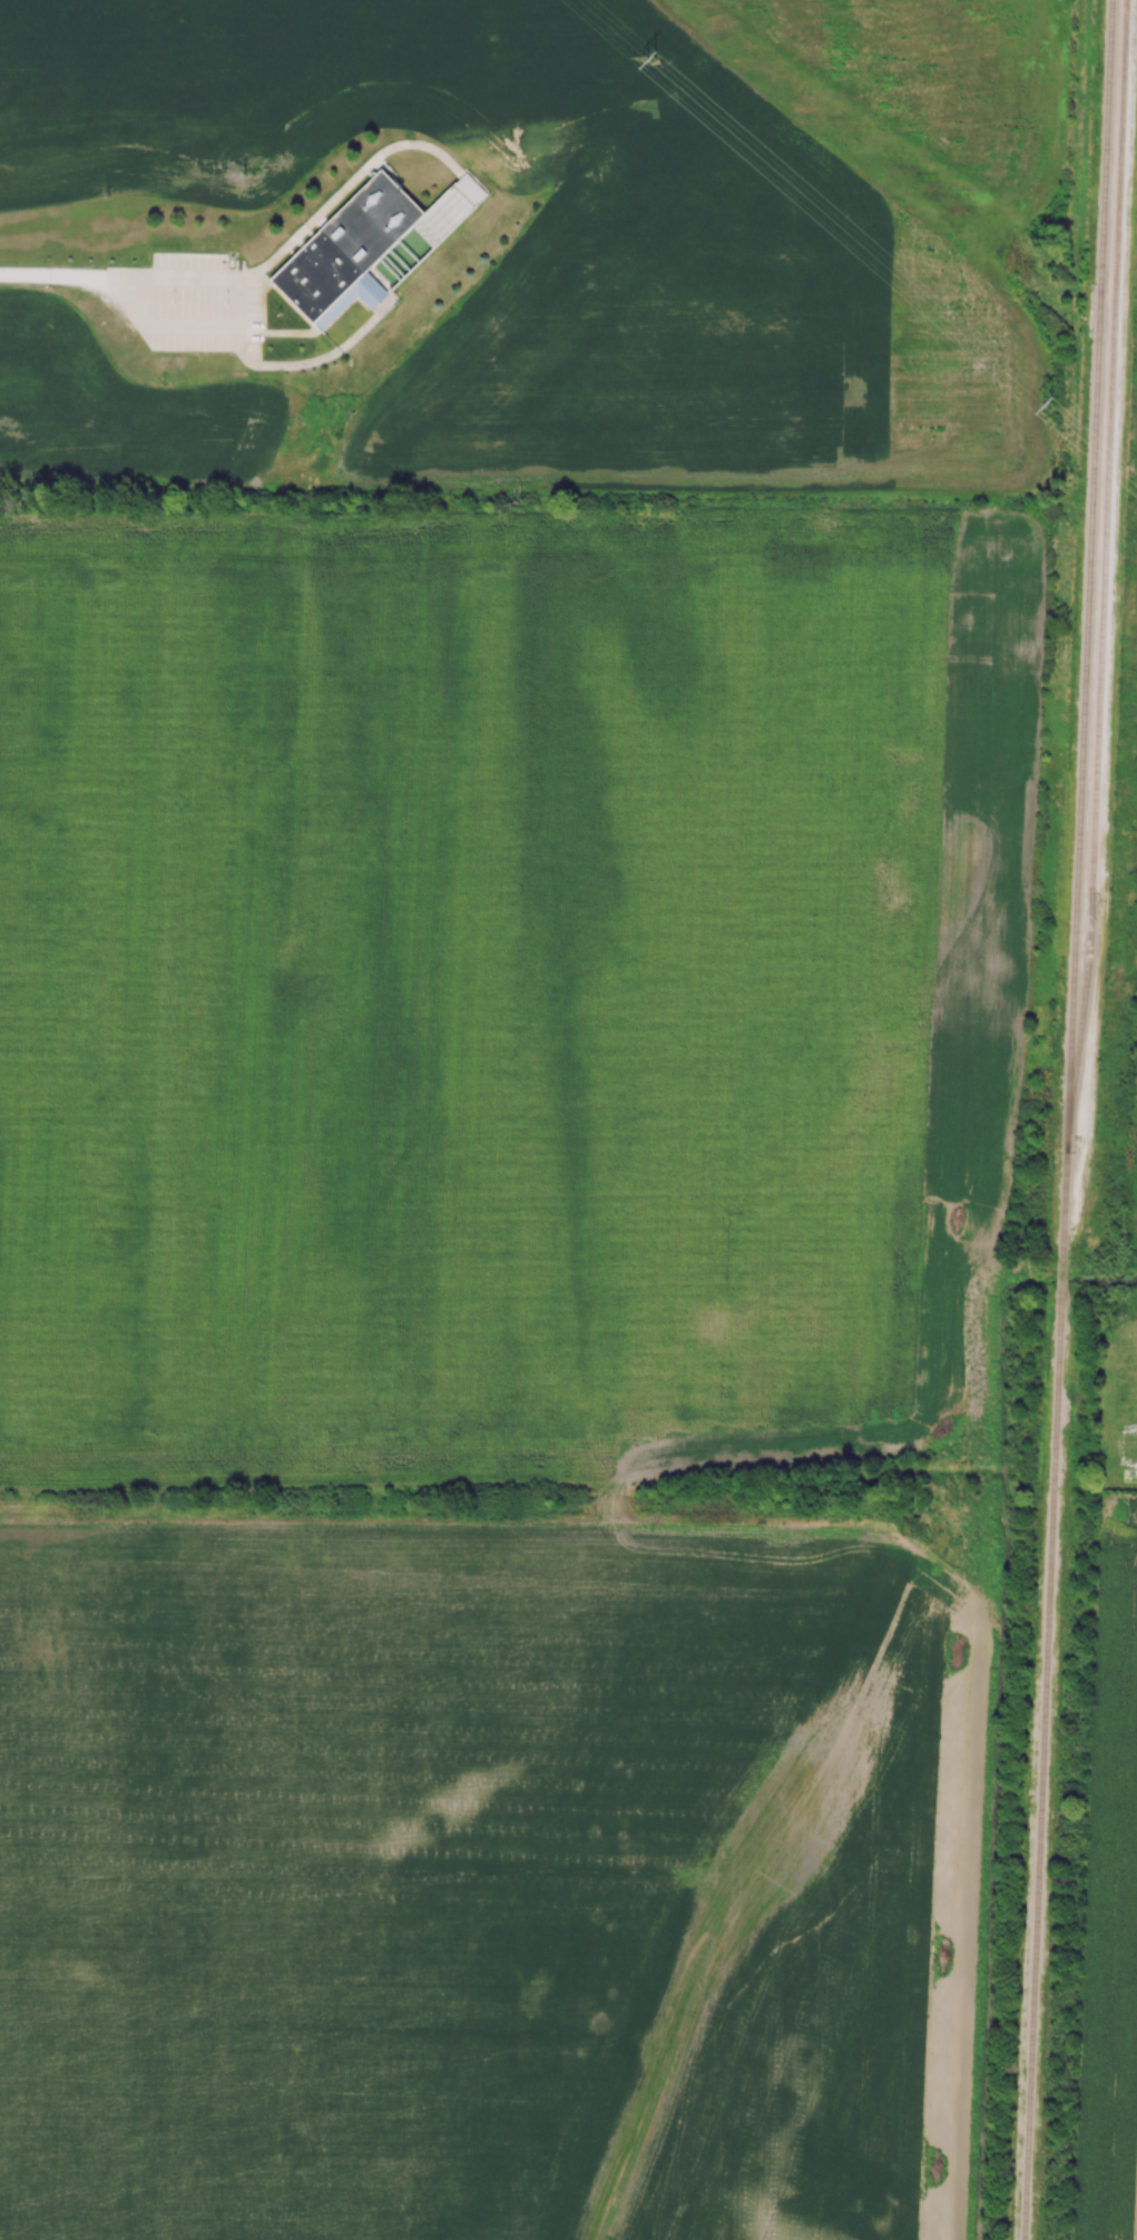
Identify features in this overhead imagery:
power tower: (651, 61)
road: (58, 274)
road: (235, 315)
power tower: (1052, 407)
railway: (1107, 578)
railway: (1082, 618)
railway: (1056, 1278)
railway: (1036, 1778)

